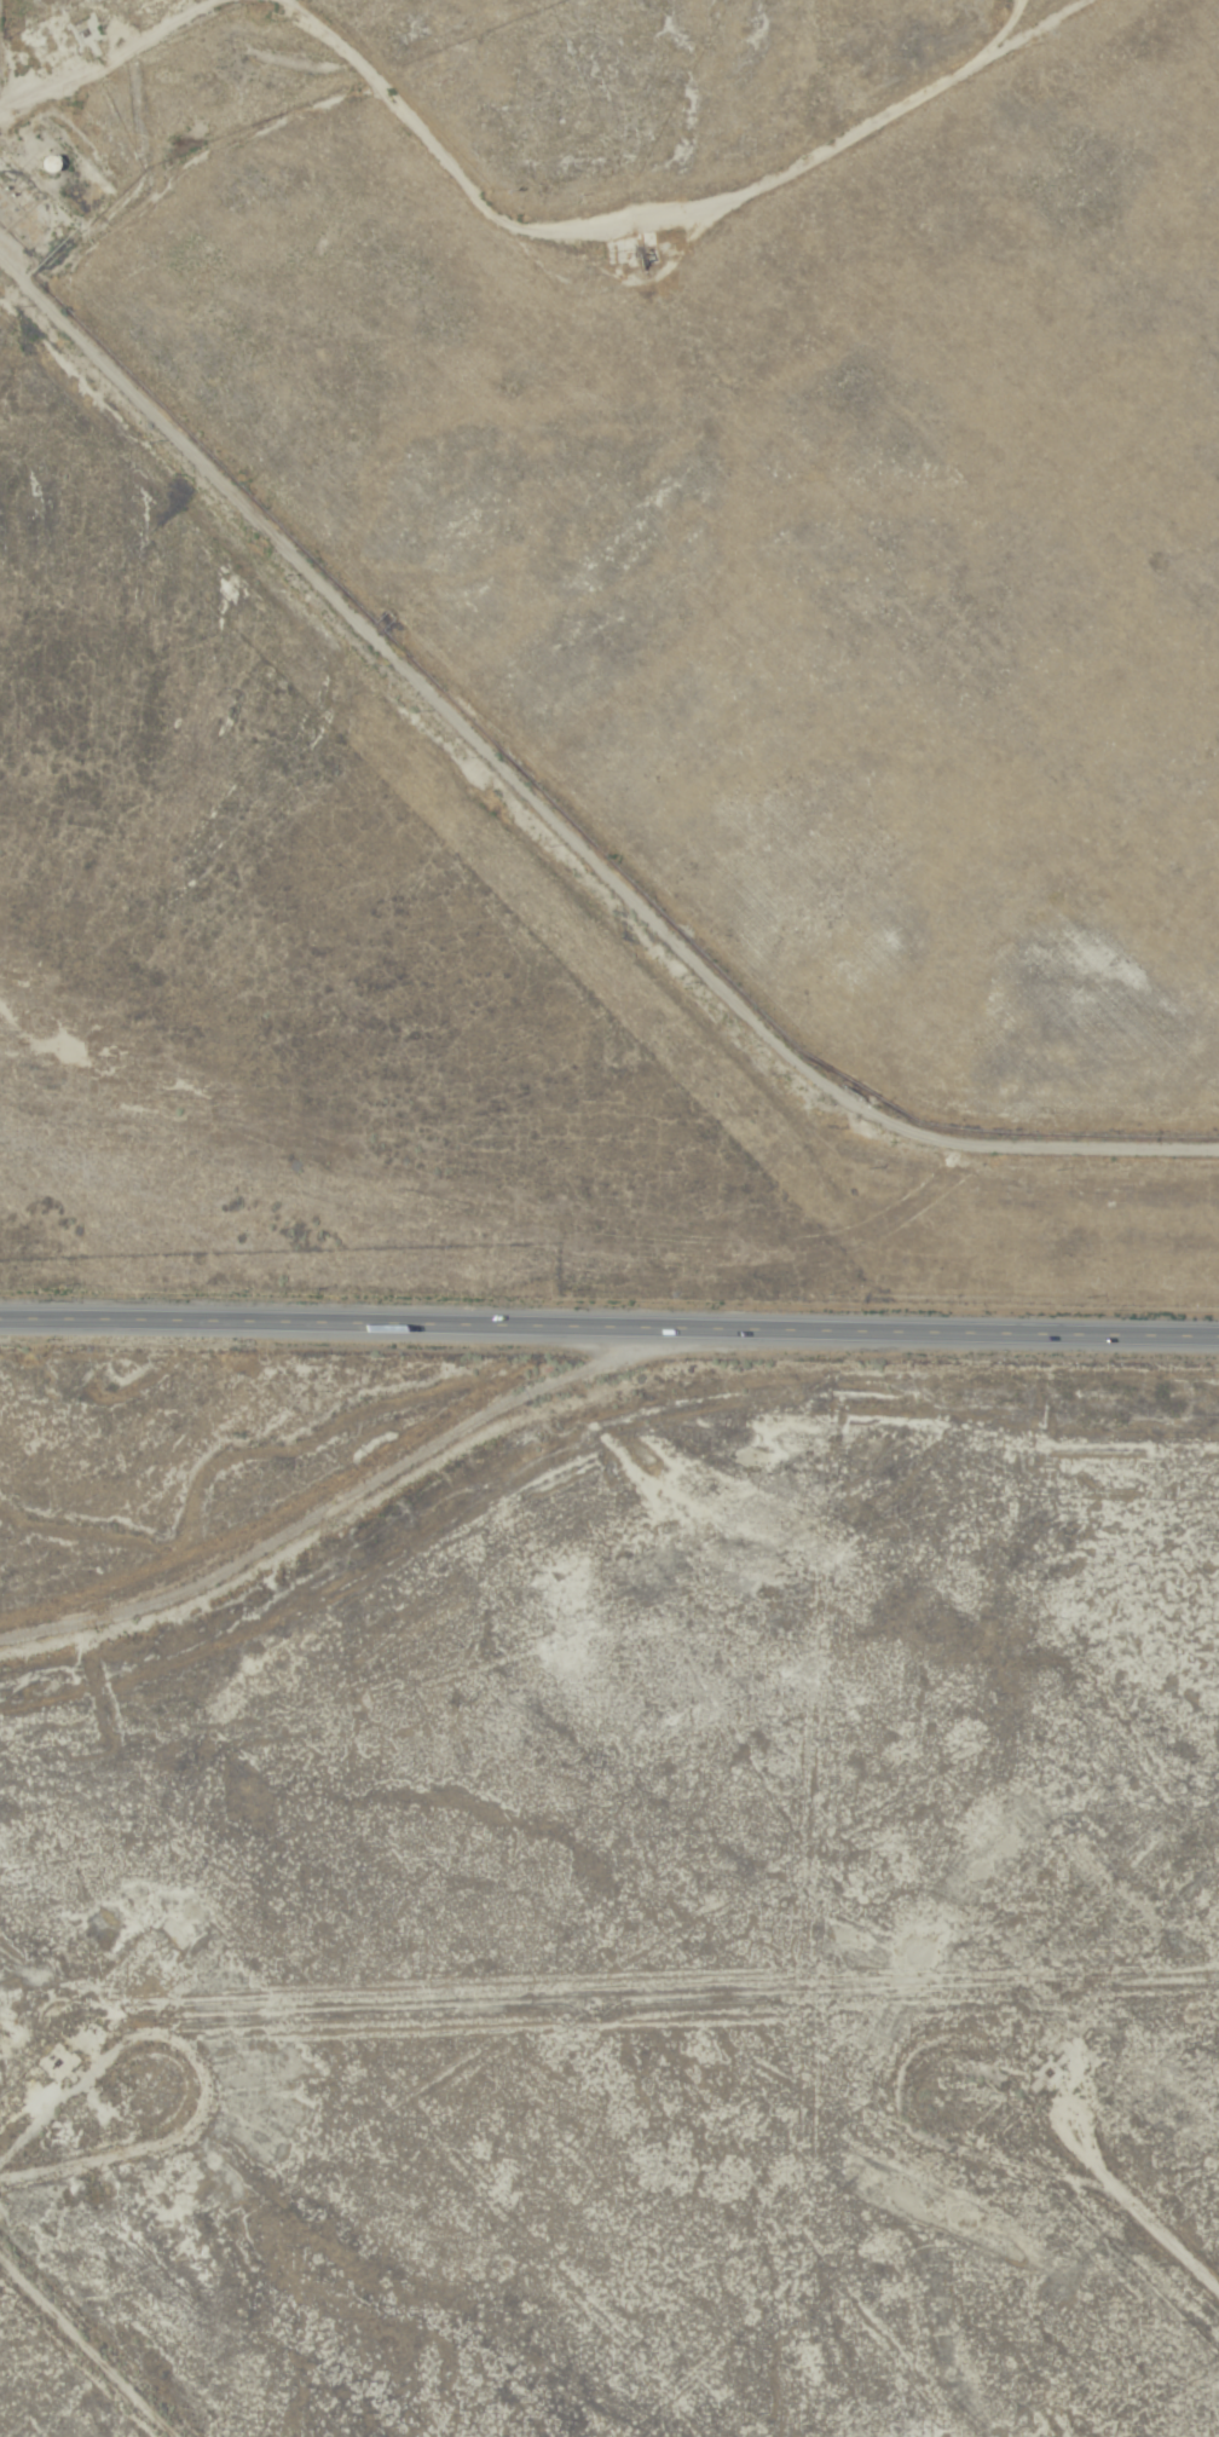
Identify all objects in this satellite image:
road: (201, 156)
building: (52, 163)
road: (649, 209)
road: (308, 314)
road: (549, 831)
road: (609, 1326)
road: (334, 1505)
road: (63, 2127)
road: (1194, 2269)
road: (88, 2344)

